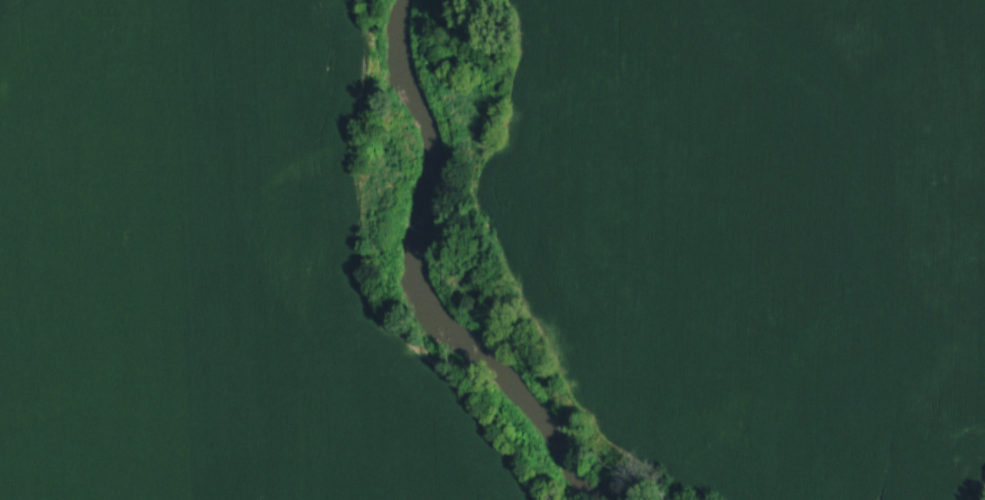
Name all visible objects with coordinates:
river: (413, 275)

